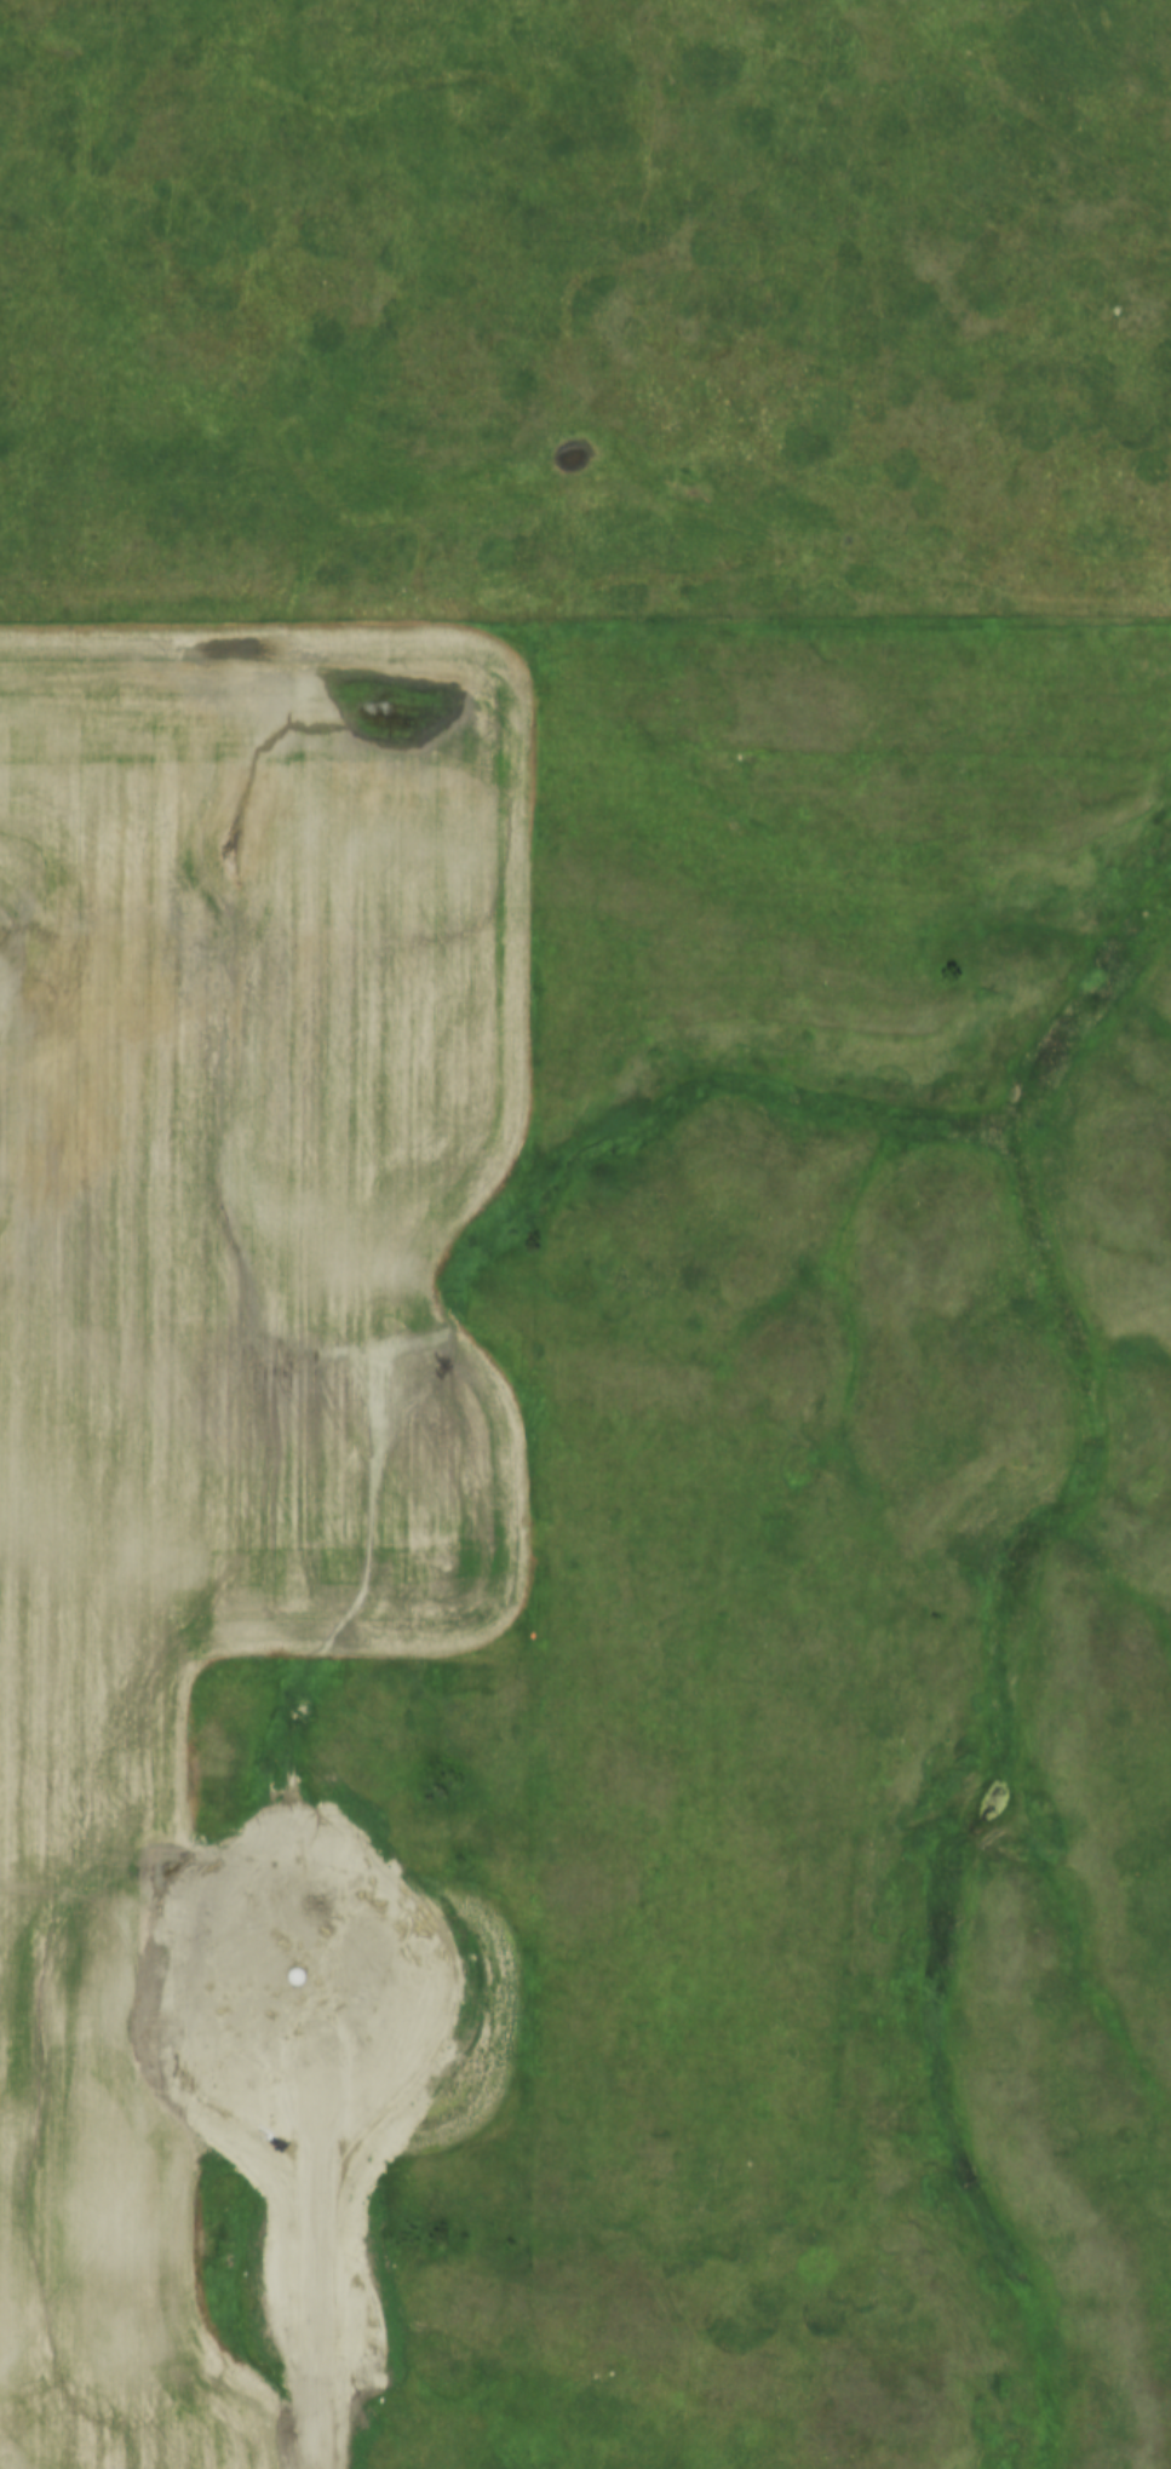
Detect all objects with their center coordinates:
wind turbine: (293, 1973)

